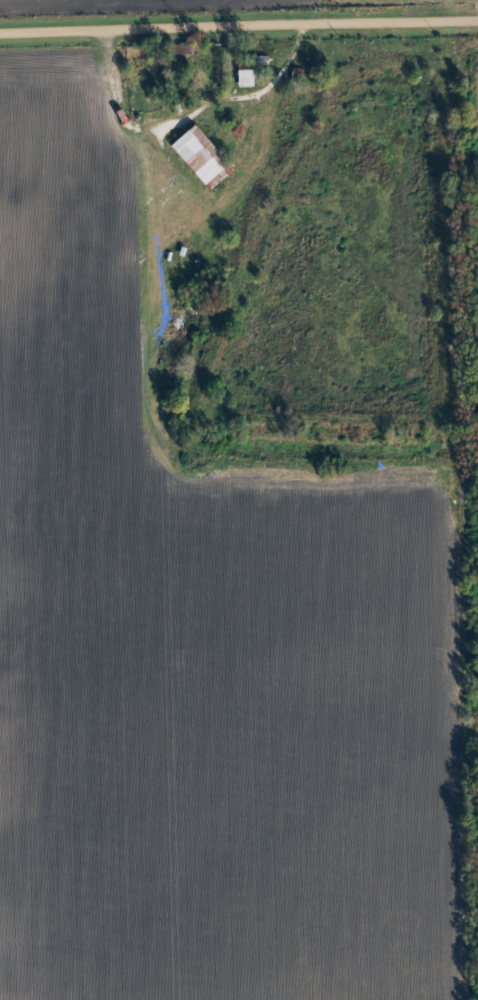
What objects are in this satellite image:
road: (239, 27)
building: (247, 77)
building: (202, 155)

